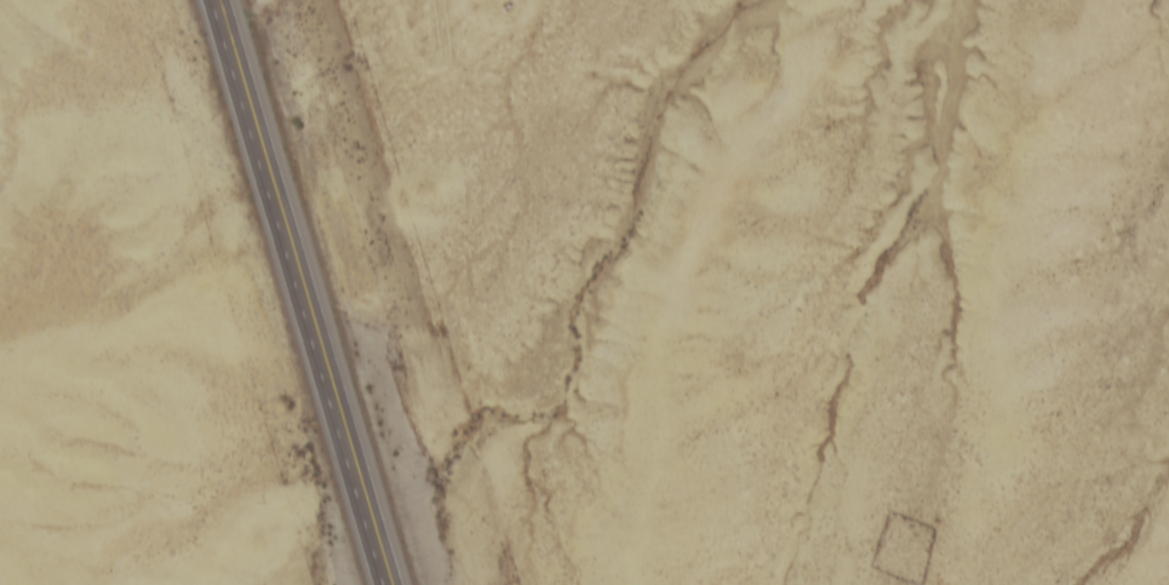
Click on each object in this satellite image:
road: (306, 292)

